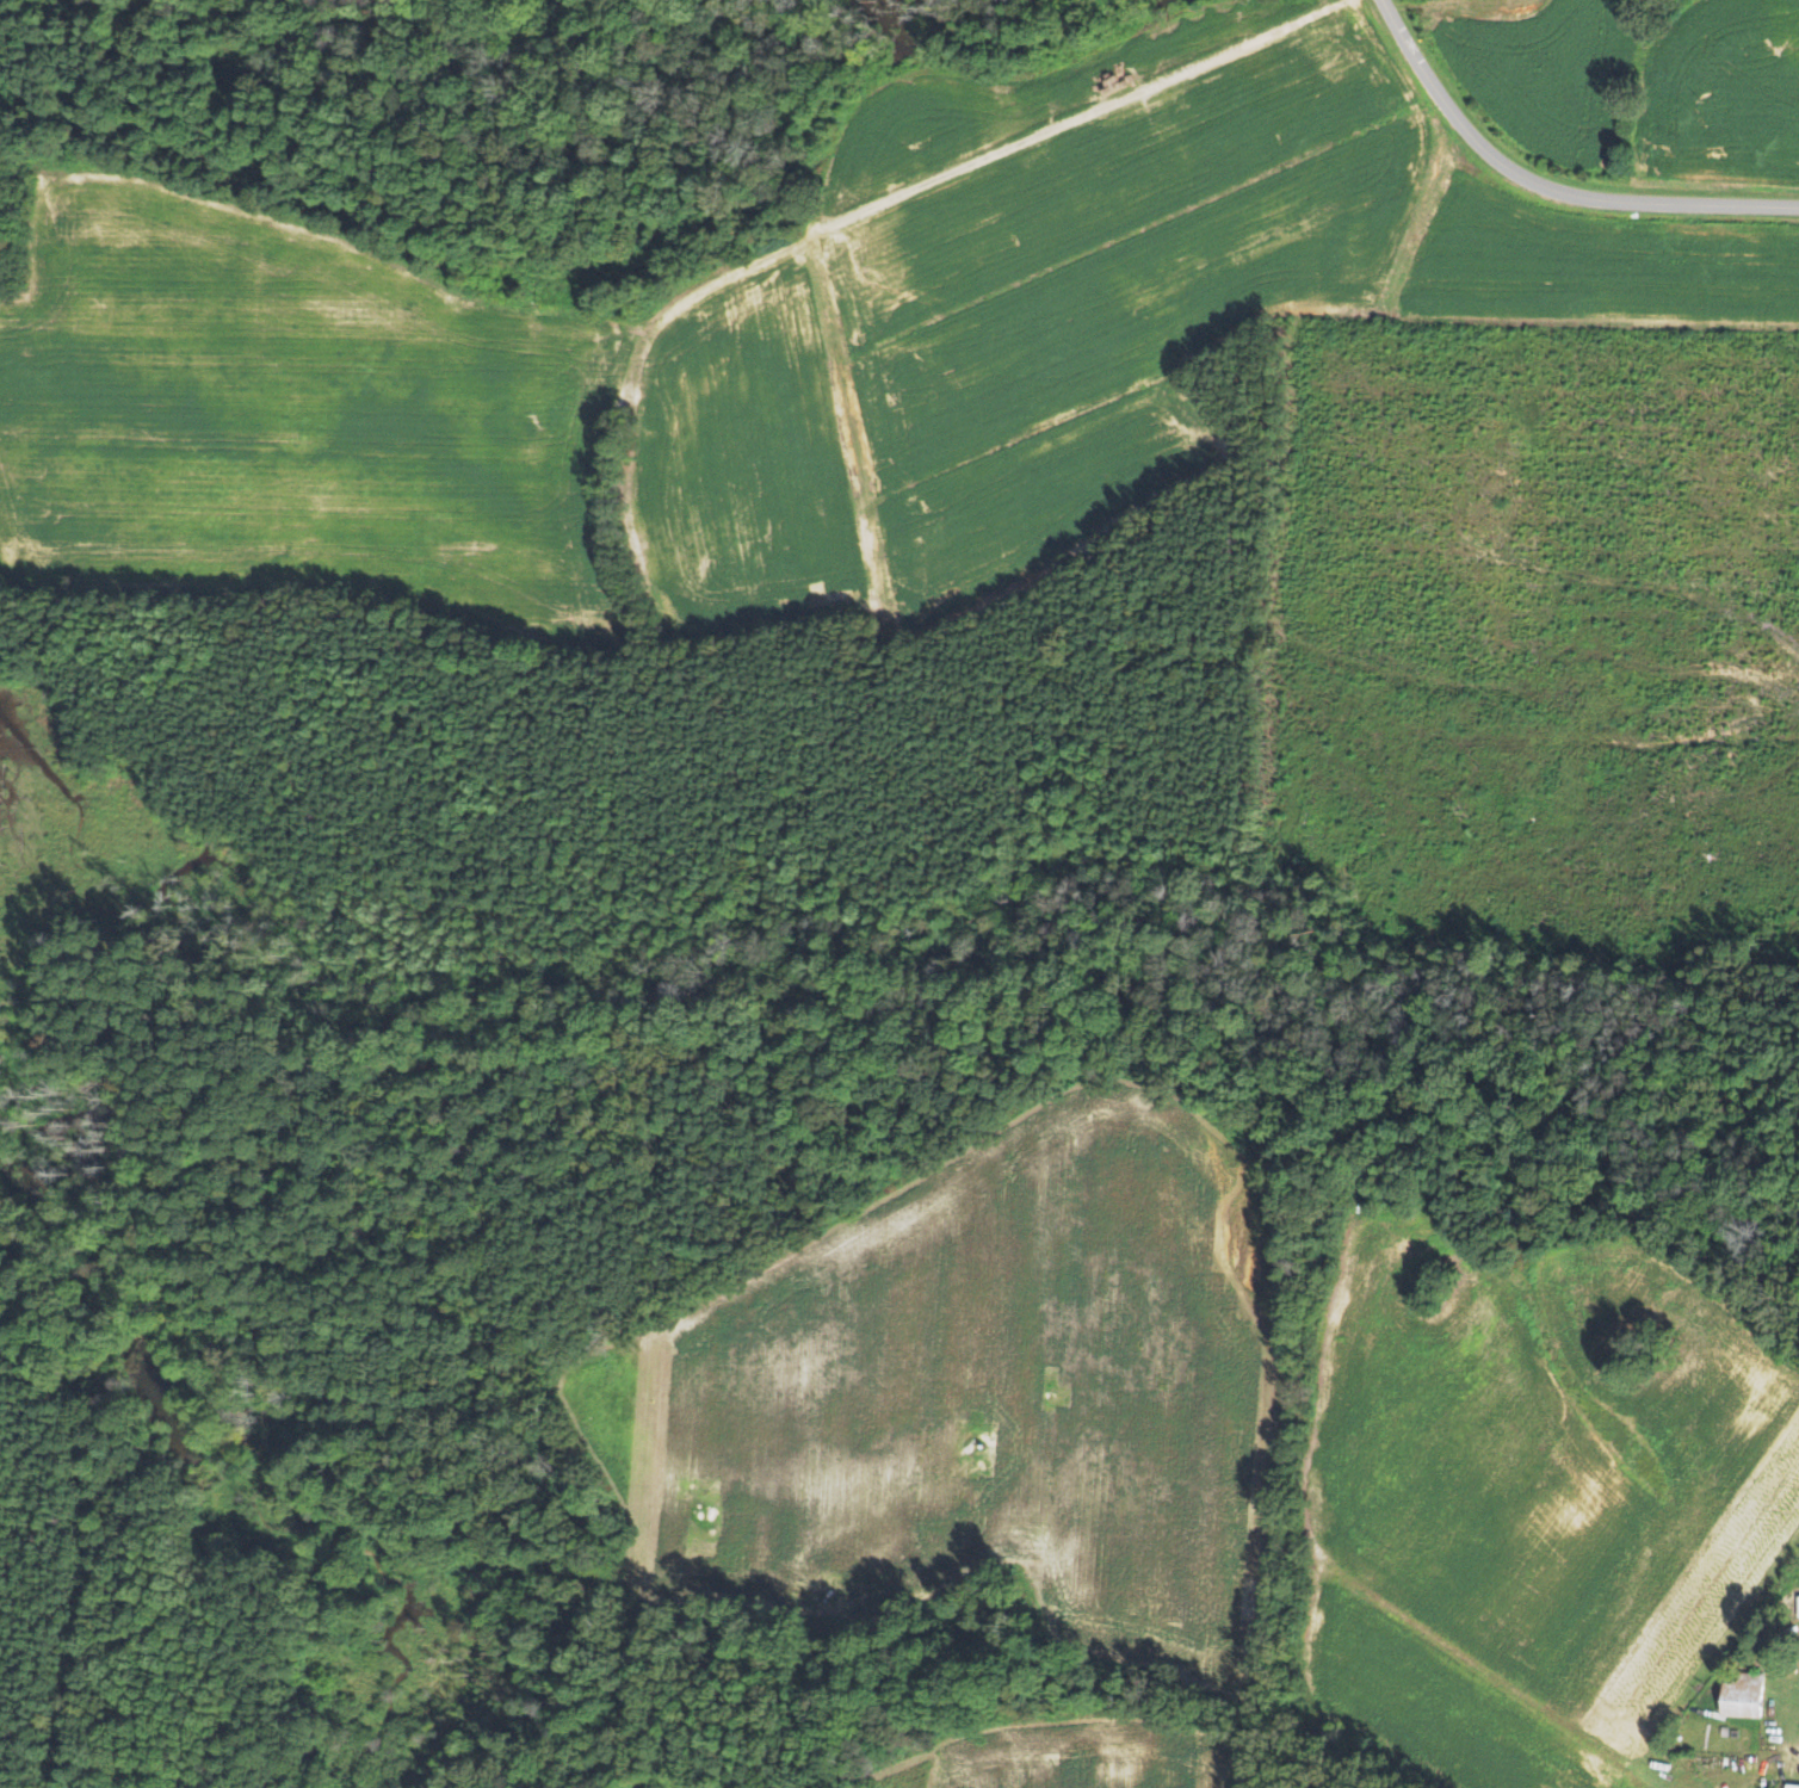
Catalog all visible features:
road: (1543, 190)
building: (1748, 1694)
building: (1793, 1786)

